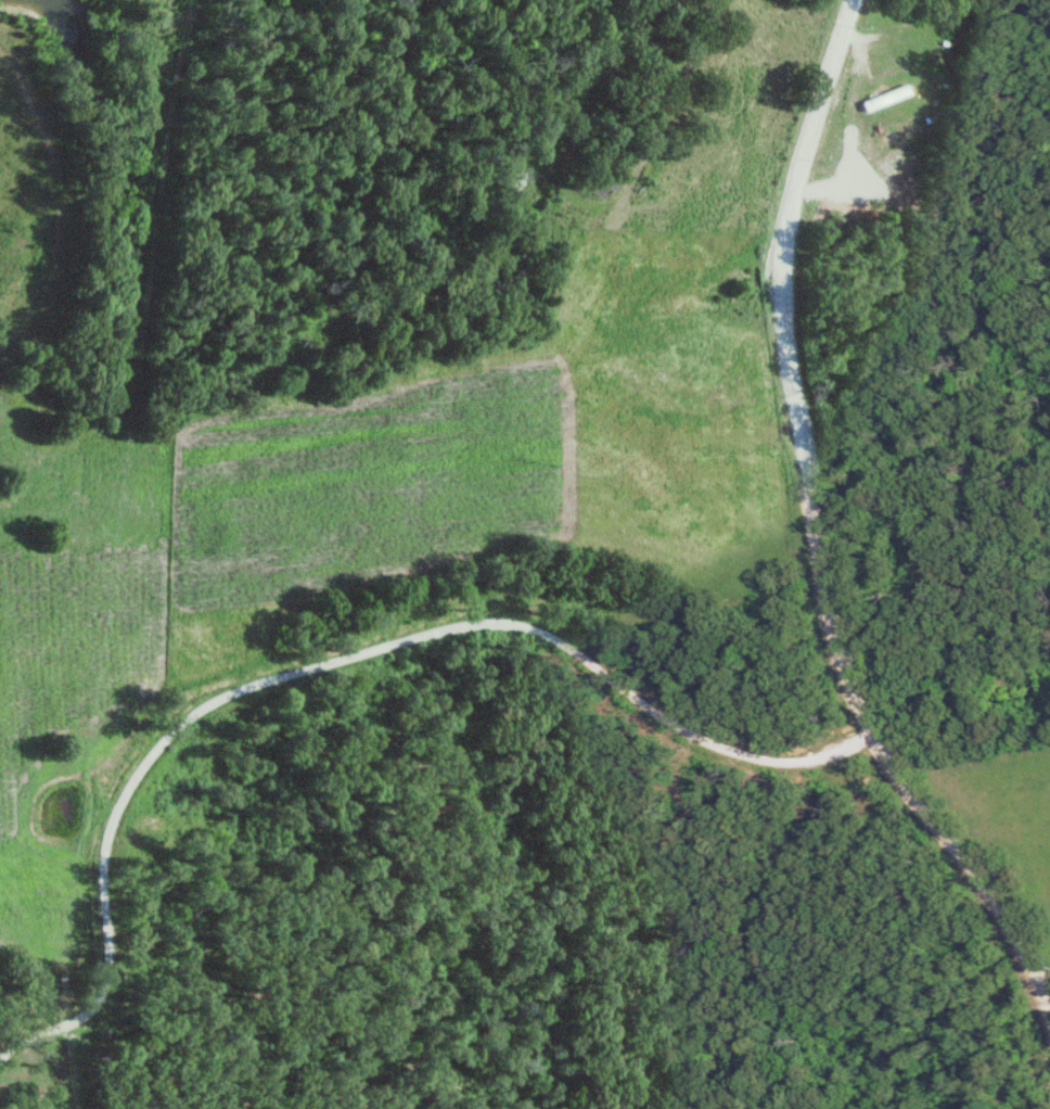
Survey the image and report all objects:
road: (816, 539)
road: (334, 659)

